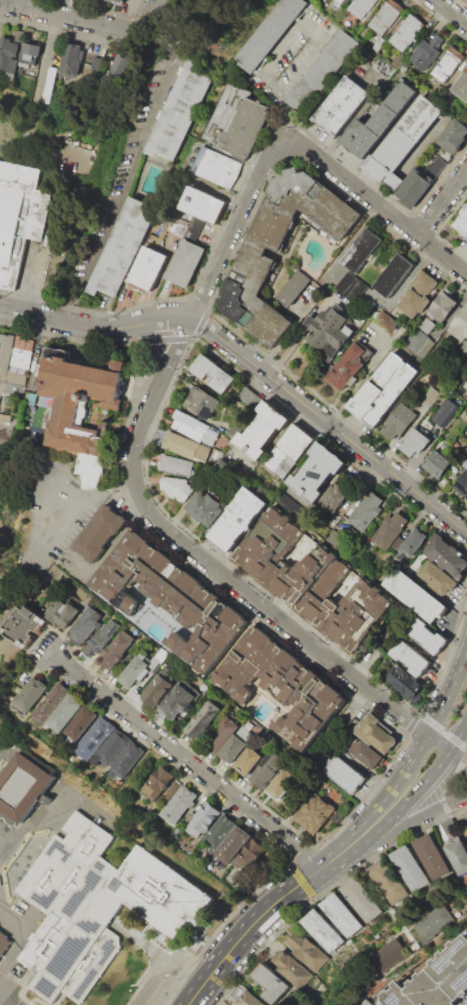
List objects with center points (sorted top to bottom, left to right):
building: (119, 1)
road: (18, 2)
building: (337, 3)
building: (361, 7)
road: (452, 12)
road: (67, 14)
road: (148, 15)
building: (386, 16)
road: (303, 22)
road: (152, 23)
parking lot: (0, 25)
road: (149, 28)
road: (165, 32)
building: (406, 32)
building: (269, 33)
road: (162, 37)
building: (17, 52)
parking lot: (294, 52)
building: (426, 54)
building: (71, 59)
building: (400, 62)
building: (122, 64)
building: (380, 64)
building: (446, 64)
building: (96, 68)
building: (321, 71)
road: (251, 80)
building: (460, 84)
building: (341, 105)
building: (466, 108)
road: (356, 110)
building: (176, 113)
road: (282, 114)
building: (236, 121)
building: (377, 122)
building: (453, 136)
building: (403, 140)
road: (301, 145)
building: (217, 166)
road: (120, 180)
building: (413, 187)
building: (202, 205)
building: (18, 217)
building: (462, 221)
building: (176, 227)
road: (214, 236)
road: (346, 243)
building: (121, 246)
building: (361, 250)
road: (441, 255)
building: (255, 258)
building: (185, 263)
building: (147, 268)
building: (393, 275)
road: (34, 281)
building: (294, 287)
building: (352, 288)
building: (418, 293)
building: (442, 305)
building: (385, 320)
building: (459, 324)
building: (329, 330)
building: (420, 338)
building: (23, 343)
building: (464, 347)
road: (156, 348)
road: (177, 349)
building: (5, 351)
building: (20, 358)
road: (253, 363)
building: (344, 368)
building: (17, 370)
building: (213, 373)
building: (17, 378)
building: (2, 383)
building: (465, 384)
building: (384, 388)
building: (14, 389)
building: (430, 395)
building: (250, 397)
building: (6, 399)
building: (81, 400)
building: (202, 402)
building: (443, 412)
building: (464, 414)
building: (398, 421)
building: (193, 427)
building: (263, 429)
building: (232, 431)
building: (415, 442)
building: (222, 443)
building: (1, 445)
building: (186, 447)
building: (289, 451)
building: (437, 463)
building: (235, 464)
building: (465, 464)
building: (176, 465)
building: (92, 470)
building: (318, 471)
building: (462, 484)
building: (177, 488)
road: (122, 492)
building: (333, 497)
building: (205, 507)
building: (365, 512)
road: (48, 513)
building: (302, 515)
parking lot: (58, 516)
building: (237, 518)
building: (389, 531)
building: (99, 532)
building: (411, 542)
road: (106, 546)
building: (447, 554)
road: (40, 562)
building: (438, 576)
building: (313, 578)
road: (232, 580)
building: (415, 594)
building: (167, 598)
building: (62, 612)
building: (84, 624)
building: (23, 625)
road: (42, 632)
building: (101, 636)
building: (428, 637)
building: (115, 649)
road: (40, 655)
road: (51, 655)
building: (409, 656)
building: (158, 658)
building: (133, 673)
building: (402, 681)
building: (279, 686)
building: (156, 689)
building: (30, 694)
road: (448, 694)
building: (178, 700)
building: (51, 703)
building: (65, 713)
building: (202, 719)
building: (81, 722)
road: (434, 725)
building: (375, 732)
building: (97, 734)
building: (218, 735)
road: (438, 745)
building: (113, 747)
building: (232, 749)
building: (365, 753)
building: (128, 758)
building: (248, 760)
road: (456, 763)
road: (188, 764)
building: (267, 768)
road: (404, 770)
road: (434, 771)
building: (345, 774)
road: (449, 782)
building: (156, 783)
building: (282, 784)
building: (174, 787)
building: (23, 792)
building: (178, 803)
building: (314, 813)
building: (203, 819)
road: (411, 820)
road: (29, 822)
building: (447, 826)
building: (219, 831)
building: (234, 843)
building: (251, 853)
building: (430, 856)
building: (458, 856)
building: (409, 867)
building: (388, 881)
road: (280, 898)
building: (362, 899)
building: (97, 907)
building: (341, 914)
building: (436, 924)
building: (322, 930)
road: (21, 941)
building: (6, 943)
building: (308, 953)
building: (387, 954)
building: (291, 969)
road: (173, 972)
building: (437, 980)
building: (270, 982)
parking lot: (10, 998)
building: (250, 999)
building: (366, 1003)
building: (230, 1004)
building: (233, 1004)

